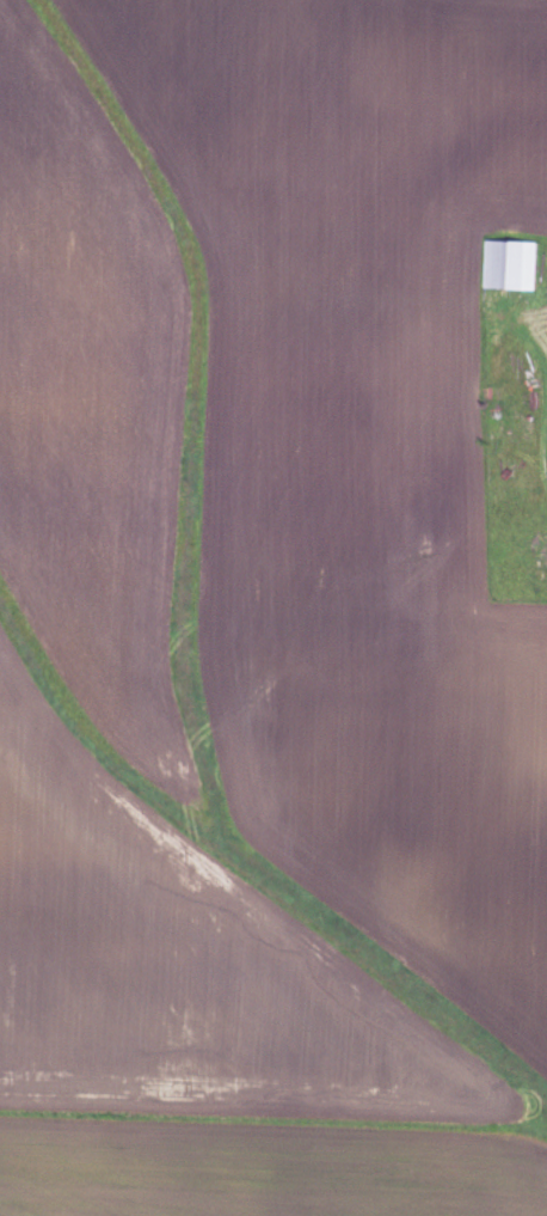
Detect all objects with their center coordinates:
building: (509, 265)

